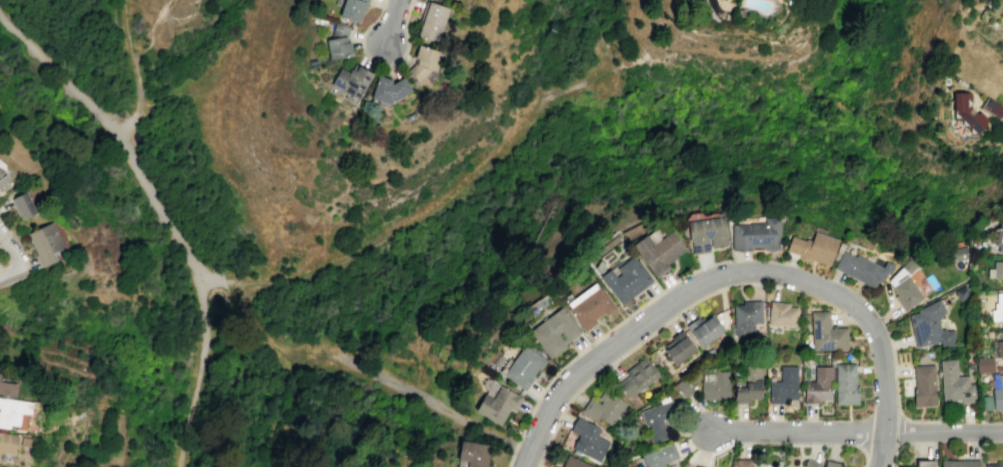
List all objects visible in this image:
building: (351, 9)
road: (394, 22)
building: (431, 22)
road: (148, 27)
building: (337, 42)
road: (535, 46)
road: (750, 51)
road: (638, 58)
building: (422, 61)
road: (380, 65)
road: (134, 72)
building: (350, 80)
building: (387, 89)
building: (993, 106)
building: (965, 109)
building: (408, 116)
road: (138, 172)
building: (3, 179)
building: (24, 205)
road: (420, 218)
building: (706, 233)
building: (998, 234)
building: (755, 235)
building: (44, 242)
building: (813, 246)
road: (7, 247)
building: (657, 251)
building: (957, 252)
building: (861, 268)
building: (998, 268)
road: (16, 272)
building: (625, 278)
road: (716, 278)
building: (904, 284)
building: (961, 292)
building: (590, 307)
building: (997, 307)
building: (782, 313)
building: (747, 316)
road: (614, 325)
building: (929, 325)
building: (704, 328)
building: (553, 332)
building: (827, 333)
road: (635, 344)
building: (678, 346)
road: (273, 347)
building: (999, 348)
building: (985, 363)
building: (524, 366)
building: (0, 373)
building: (638, 376)
building: (954, 382)
building: (749, 383)
building: (846, 383)
building: (784, 384)
building: (819, 384)
building: (924, 384)
building: (717, 385)
building: (683, 387)
building: (6, 388)
road: (896, 396)
building: (997, 398)
building: (985, 402)
building: (498, 403)
road: (436, 404)
building: (604, 406)
building: (12, 411)
road: (188, 413)
building: (657, 419)
road: (795, 431)
road: (943, 431)
road: (895, 432)
building: (589, 440)
building: (25, 441)
building: (8, 442)
road: (905, 443)
road: (811, 444)
road: (515, 446)
road: (879, 449)
building: (474, 452)
building: (659, 456)
road: (510, 459)
building: (575, 462)
building: (744, 462)
building: (812, 463)
building: (921, 463)
building: (959, 463)
building: (833, 465)
building: (993, 465)
building: (553, 466)
building: (698, 466)

